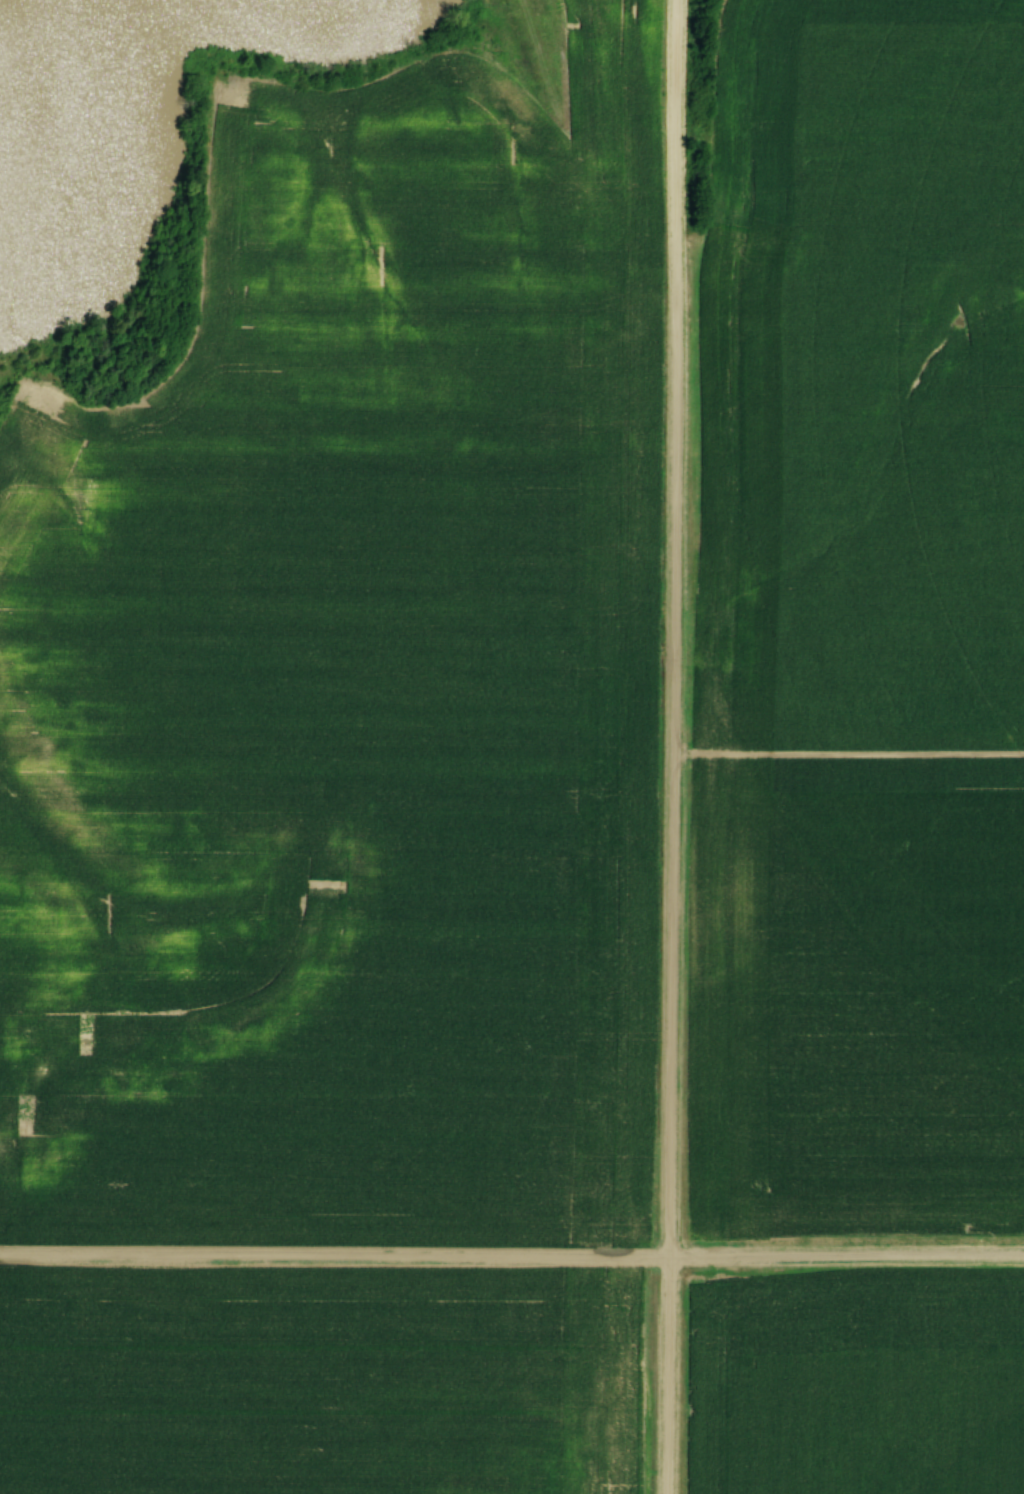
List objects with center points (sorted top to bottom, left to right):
dam: (540, 68)
road: (676, 746)
road: (512, 1260)

